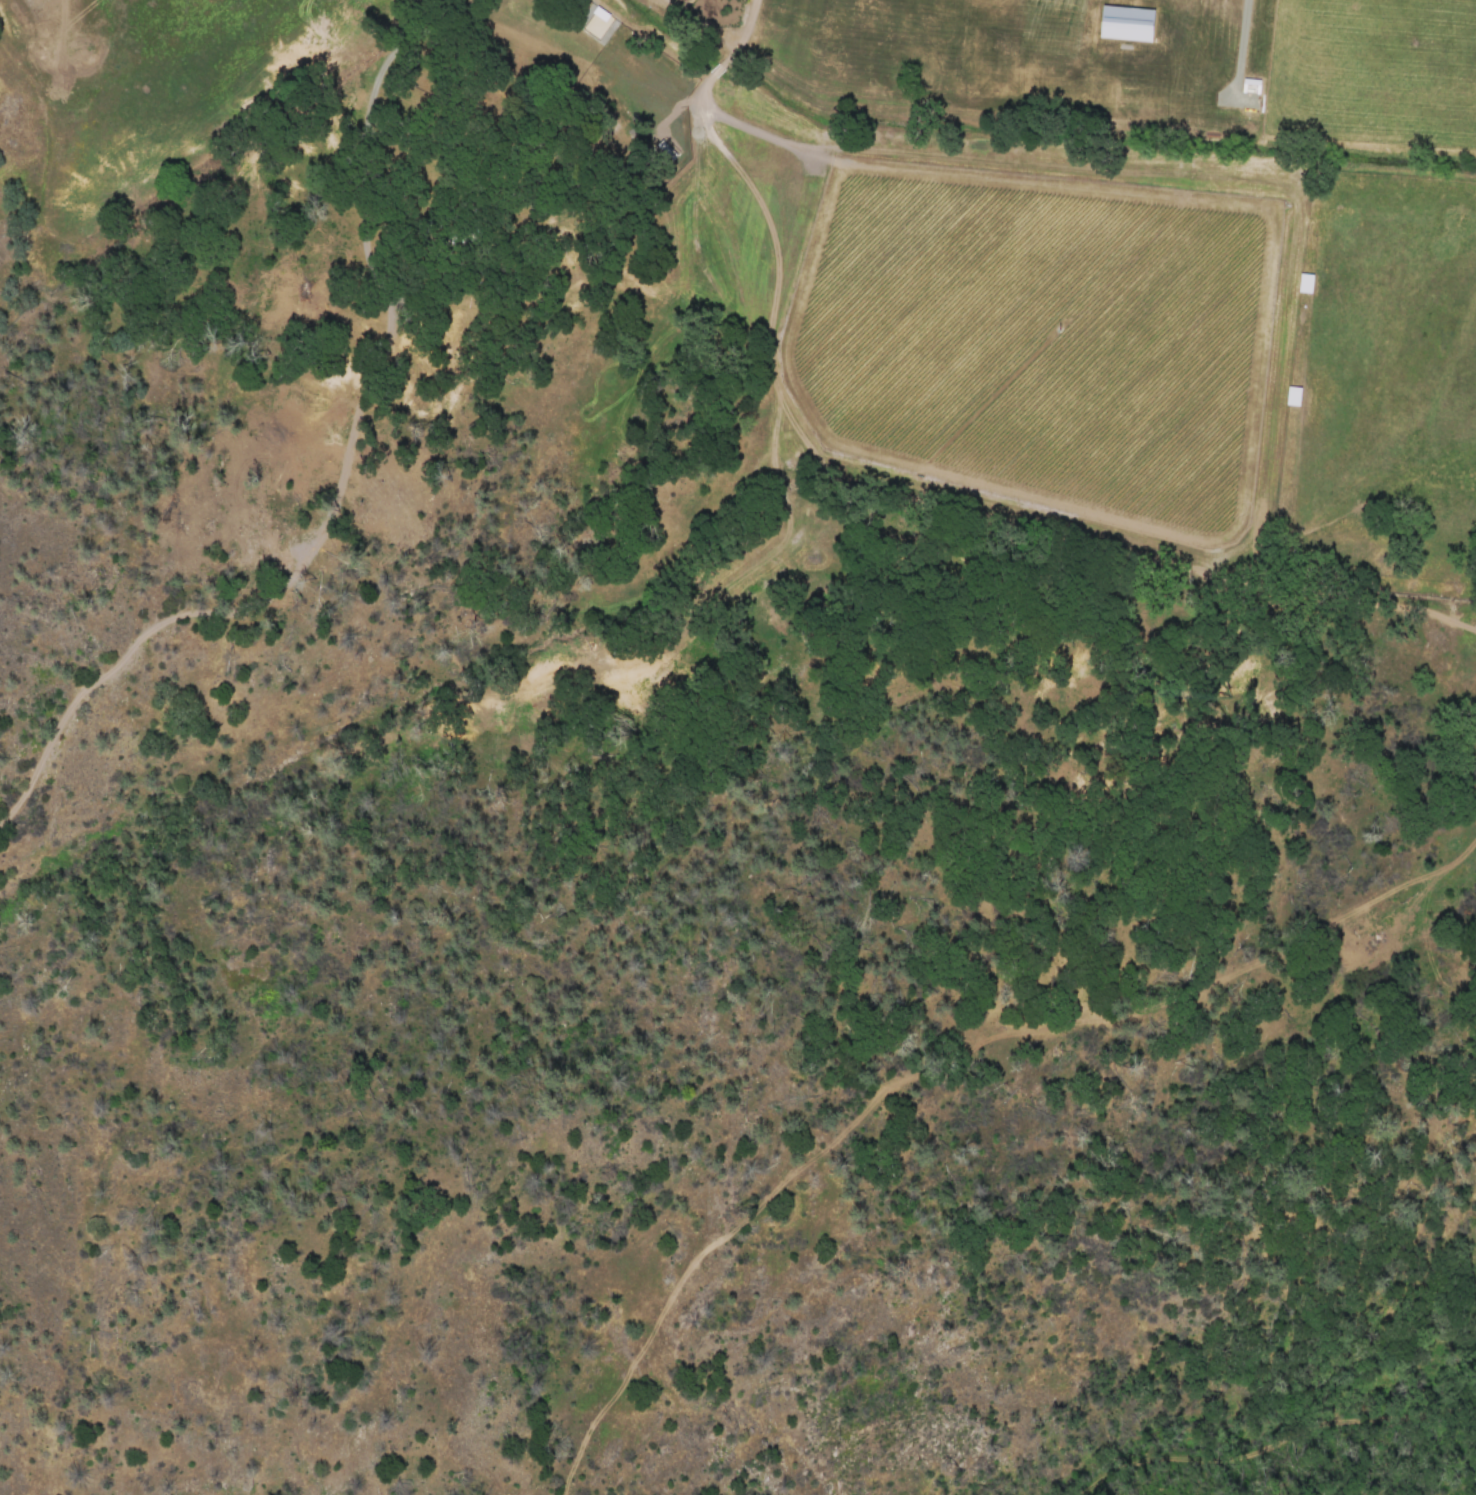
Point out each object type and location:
building: (1183, 8)
building: (1122, 24)

